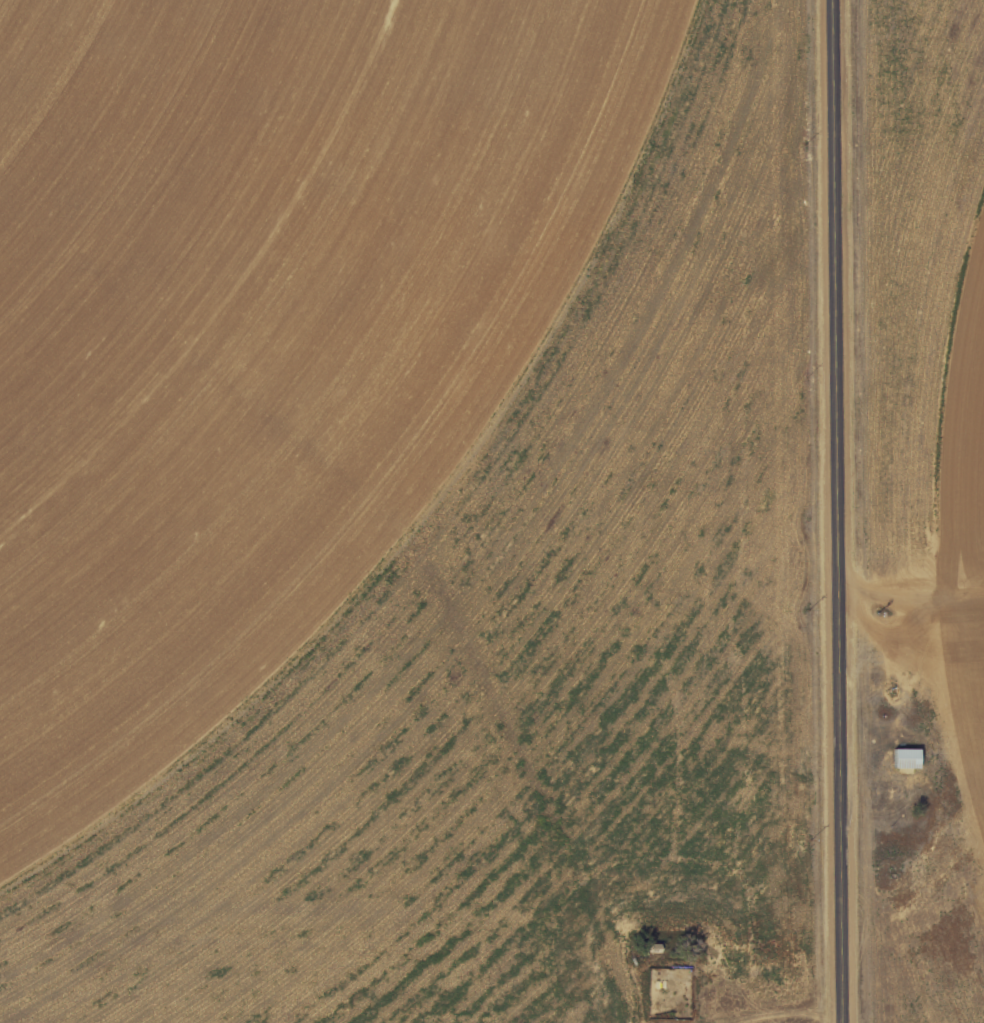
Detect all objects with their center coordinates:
road: (836, 511)

